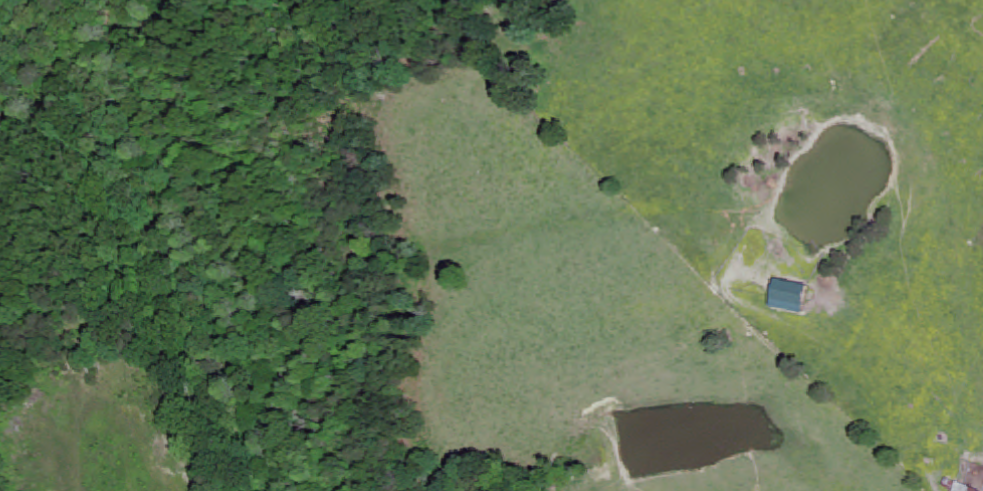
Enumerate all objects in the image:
building: (793, 298)
building: (966, 488)

